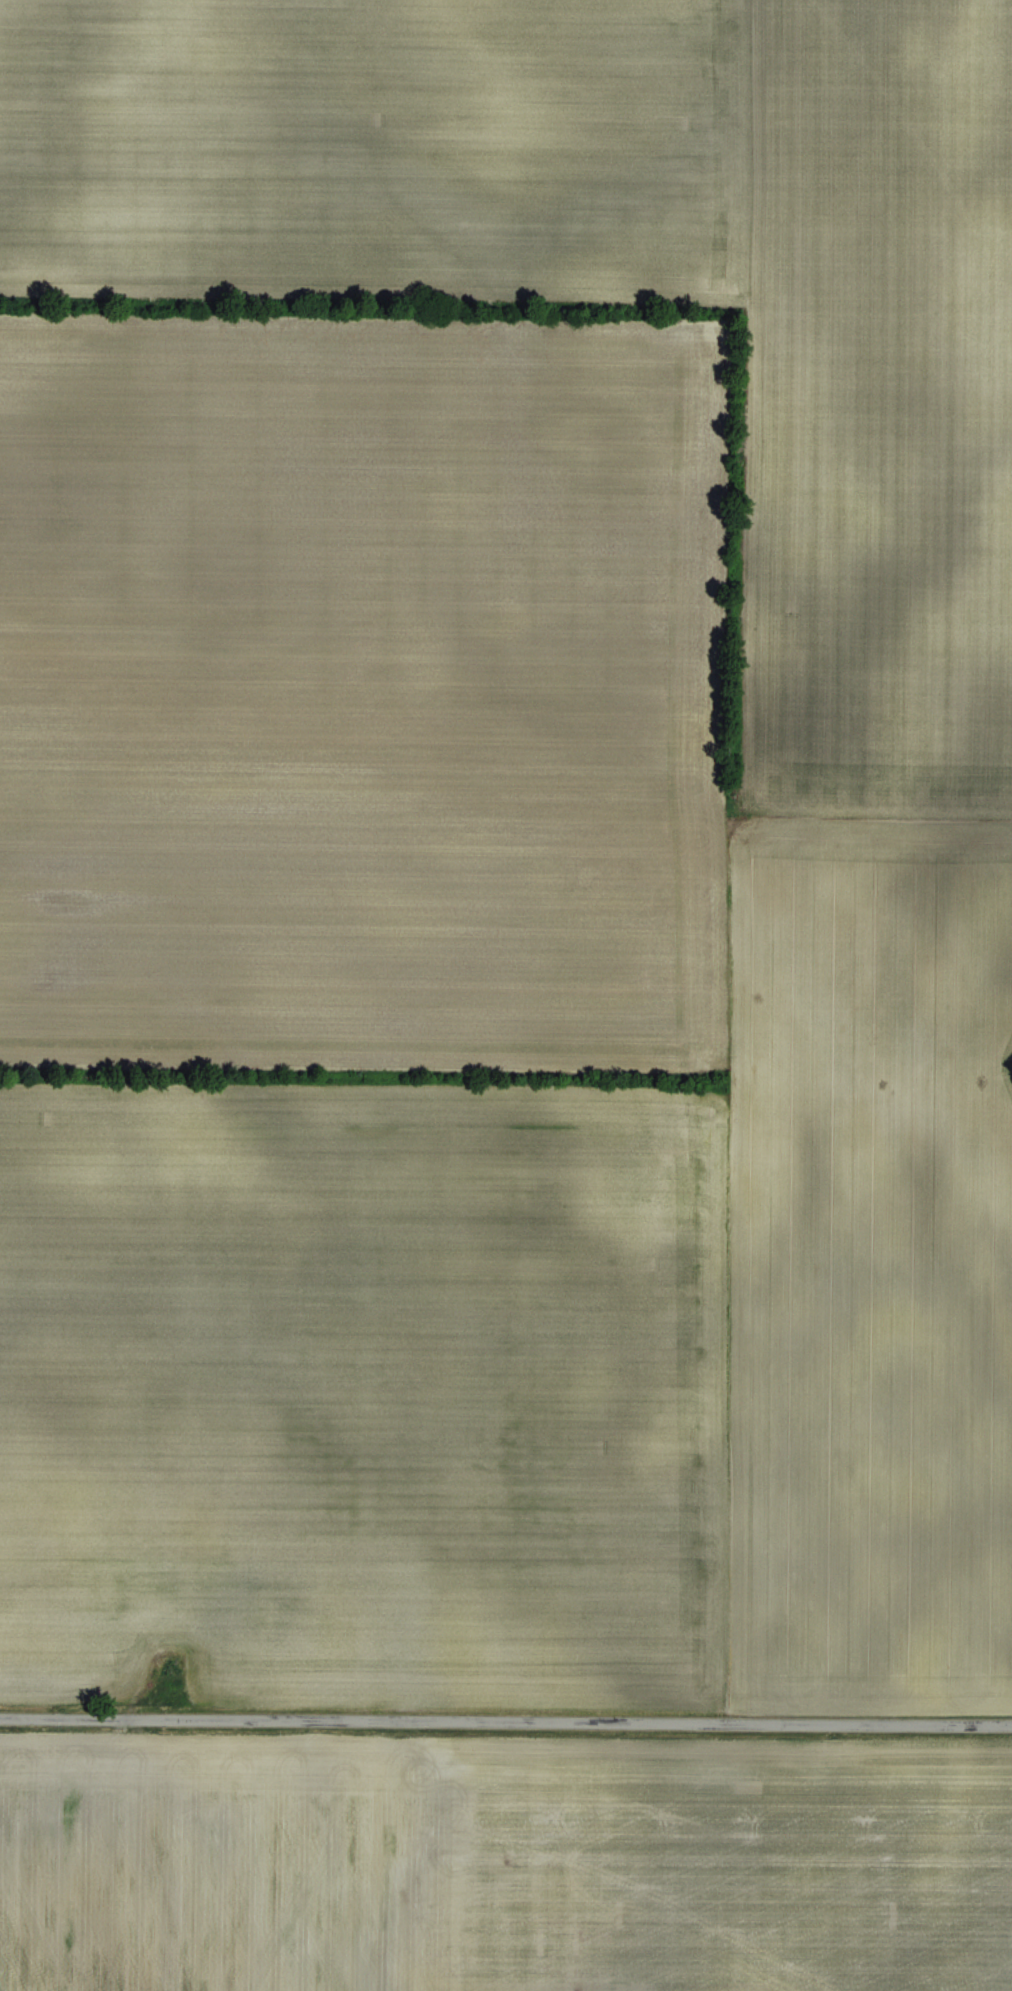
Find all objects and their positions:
road: (506, 1717)

